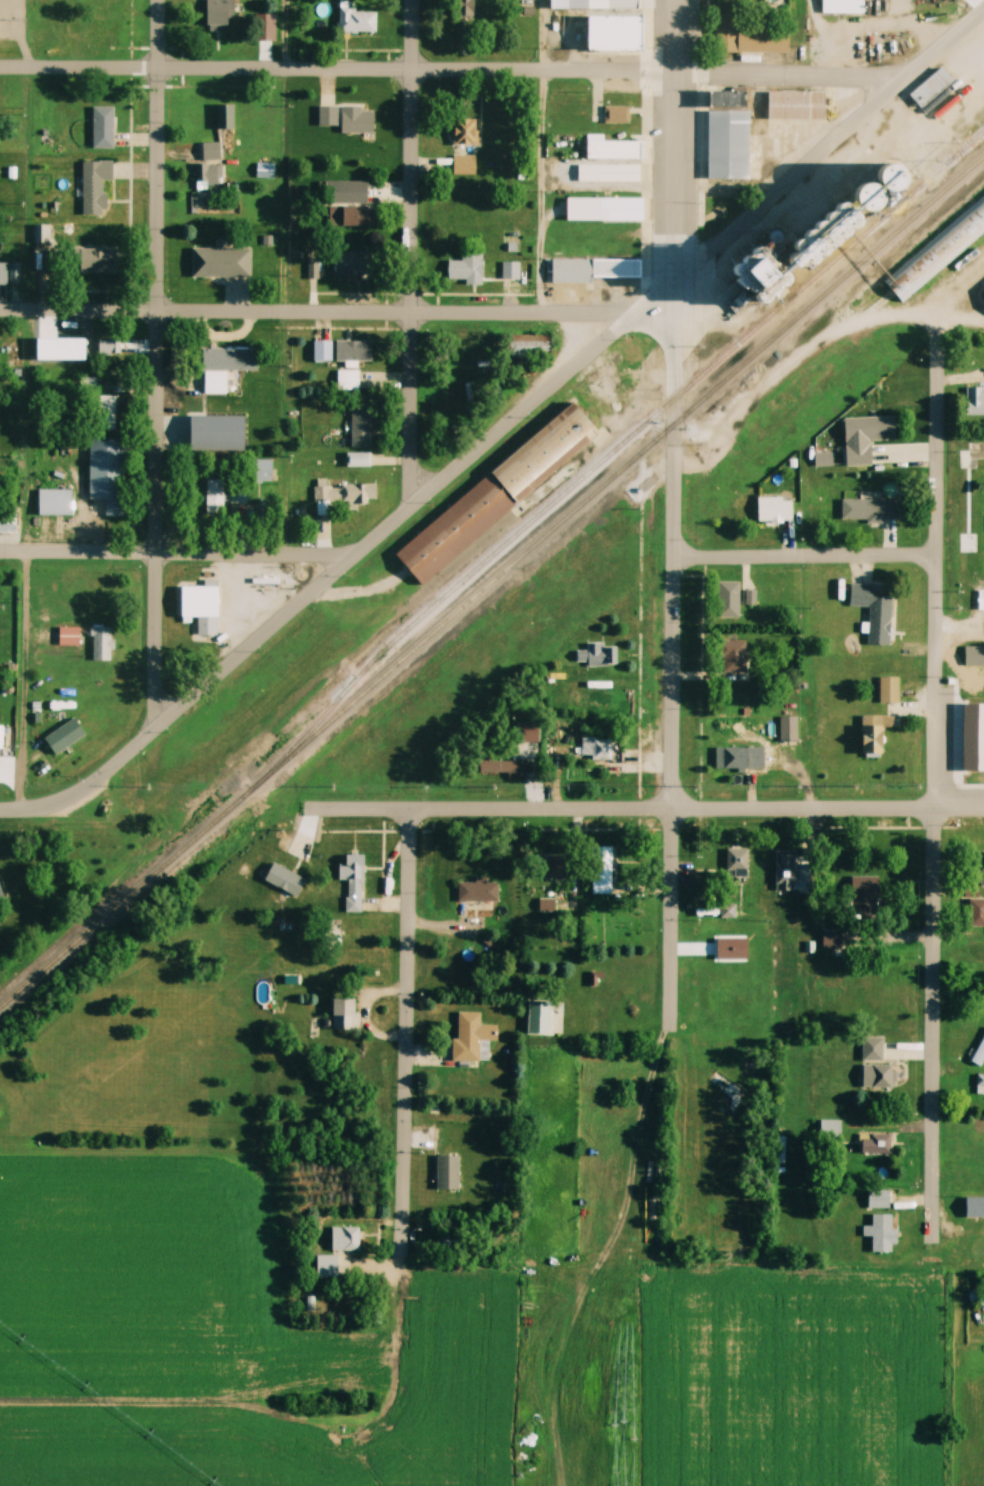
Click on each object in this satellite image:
building: (588, 3)
building: (843, 7)
building: (221, 12)
building: (354, 20)
building: (264, 27)
building: (616, 34)
road: (816, 37)
building: (748, 39)
road: (445, 69)
building: (931, 88)
building: (788, 105)
building: (618, 113)
building: (327, 116)
building: (224, 117)
building: (357, 121)
building: (103, 126)
building: (465, 131)
building: (729, 136)
road: (676, 139)
road: (829, 144)
building: (614, 150)
building: (210, 151)
building: (464, 165)
building: (207, 173)
building: (618, 173)
building: (95, 185)
road: (544, 191)
building: (623, 207)
building: (349, 215)
building: (43, 233)
road: (415, 248)
building: (939, 250)
building: (99, 260)
building: (221, 261)
building: (351, 262)
building: (466, 268)
building: (618, 269)
building: (510, 271)
building: (13, 272)
building: (2, 273)
road: (318, 312)
building: (531, 345)
building: (107, 347)
building: (322, 351)
building: (353, 351)
road: (818, 352)
road: (159, 364)
building: (221, 368)
building: (348, 380)
building: (974, 401)
building: (106, 412)
building: (875, 426)
building: (360, 427)
road: (286, 433)
railway: (617, 444)
building: (857, 456)
building: (358, 459)
building: (823, 460)
building: (106, 466)
building: (264, 469)
building: (341, 494)
building: (223, 495)
building: (55, 500)
building: (774, 508)
building: (870, 509)
building: (8, 518)
park: (981, 519)
building: (455, 527)
road: (675, 544)
road: (361, 550)
road: (173, 554)
road: (807, 557)
railway: (490, 580)
building: (728, 597)
building: (199, 600)
building: (874, 612)
building: (69, 635)
building: (102, 642)
building: (974, 653)
building: (734, 654)
building: (595, 655)
road: (25, 681)
building: (889, 688)
building: (787, 730)
building: (873, 734)
building: (66, 735)
building: (595, 748)
building: (735, 758)
building: (510, 767)
road: (939, 780)
road: (829, 809)
road: (490, 810)
road: (21, 811)
building: (980, 863)
building: (554, 866)
building: (737, 866)
building: (784, 870)
building: (601, 874)
building: (805, 877)
building: (285, 878)
building: (353, 882)
building: (476, 891)
building: (863, 893)
building: (546, 905)
building: (974, 909)
building: (728, 912)
road: (674, 920)
building: (333, 937)
building: (831, 939)
building: (727, 985)
building: (345, 1014)
building: (473, 1038)
road: (409, 1045)
building: (873, 1045)
building: (978, 1054)
building: (877, 1074)
building: (980, 1085)
building: (724, 1093)
building: (875, 1145)
building: (878, 1200)
building: (974, 1207)
building: (881, 1233)
building: (345, 1238)
building: (327, 1266)
crop: (157, 1286)
building: (976, 1296)
crop: (808, 1373)
crop: (467, 1374)

